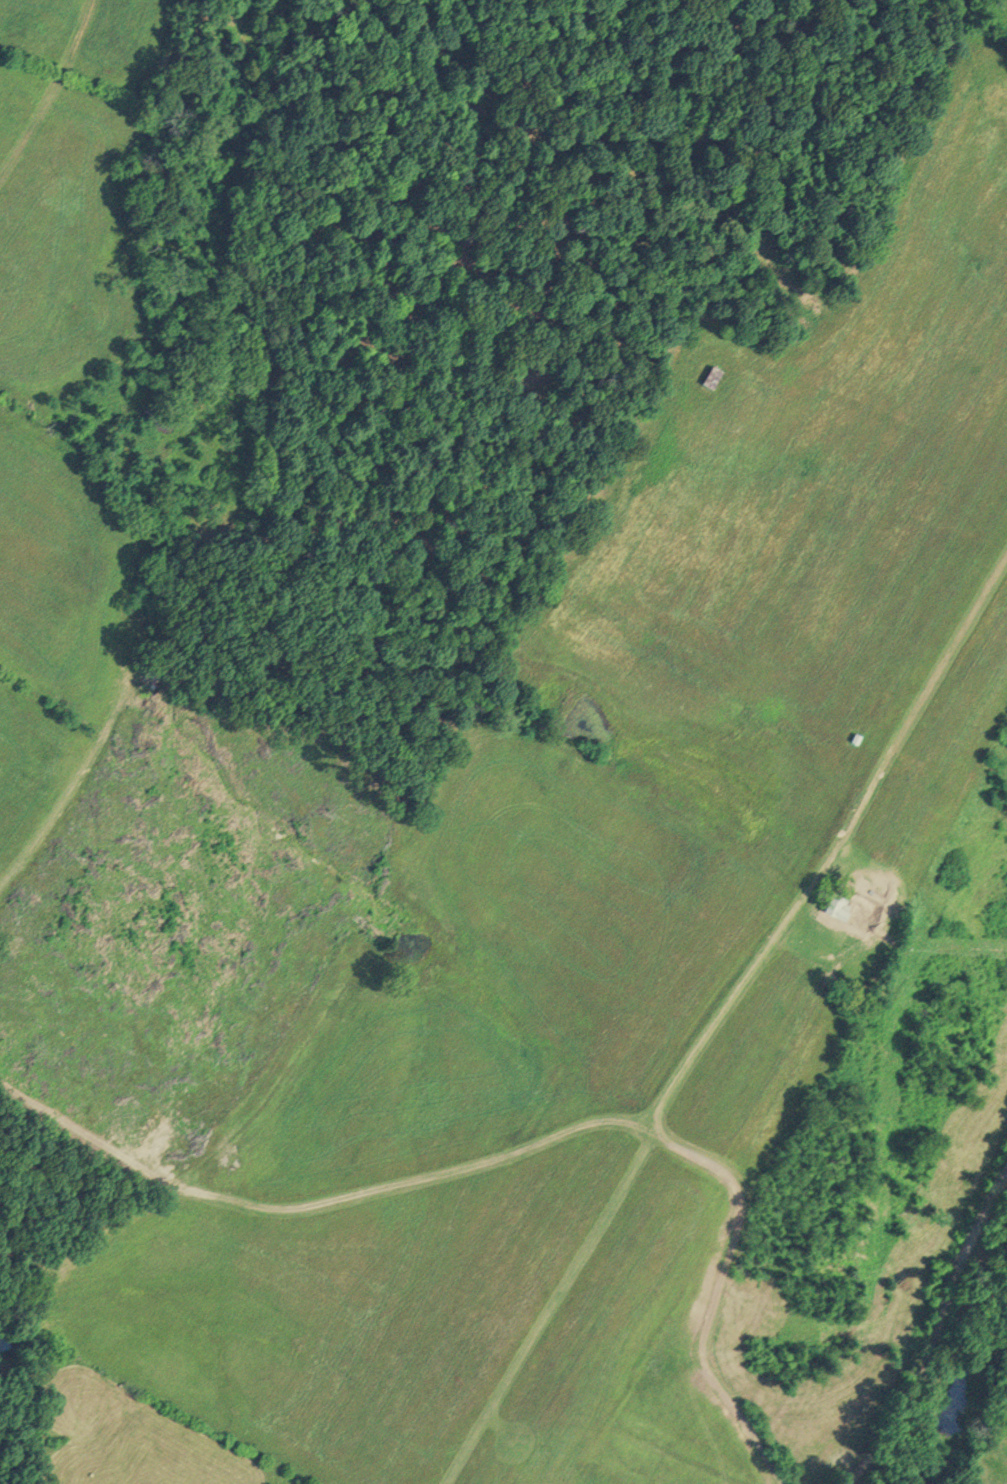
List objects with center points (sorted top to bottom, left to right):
building: (854, 738)
building: (834, 906)
road: (658, 1115)
road: (939, 1334)

